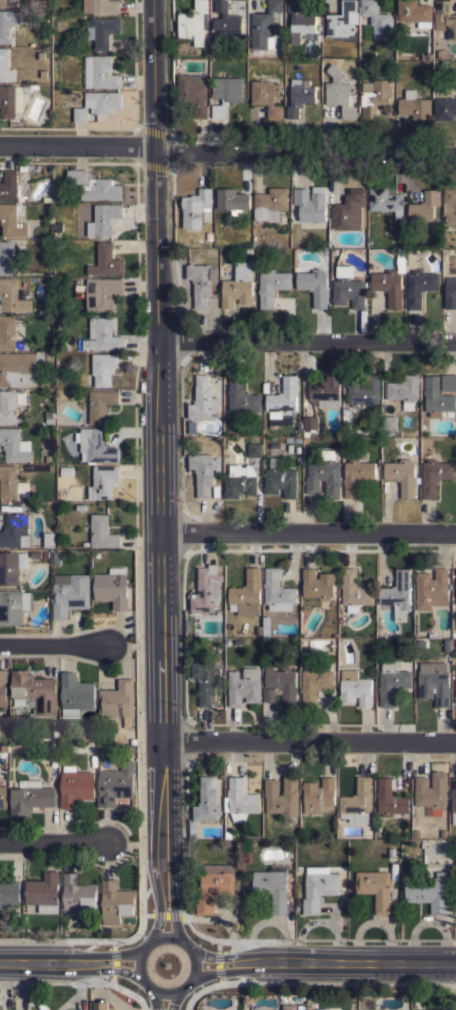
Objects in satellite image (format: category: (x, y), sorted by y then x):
building: (8, 3)
building: (101, 6)
building: (415, 12)
building: (445, 17)
building: (376, 19)
building: (194, 22)
building: (225, 22)
building: (342, 22)
building: (300, 23)
building: (7, 24)
building: (265, 27)
building: (102, 30)
building: (40, 55)
building: (5, 66)
building: (43, 73)
building: (100, 73)
building: (34, 86)
building: (26, 89)
building: (339, 92)
building: (192, 93)
building: (225, 94)
building: (299, 96)
building: (266, 97)
building: (374, 97)
building: (10, 100)
building: (102, 101)
building: (414, 105)
building: (444, 108)
building: (80, 114)
road: (227, 152)
building: (24, 165)
building: (77, 177)
building: (10, 185)
building: (101, 190)
building: (232, 200)
building: (386, 201)
building: (310, 203)
building: (270, 204)
building: (449, 206)
building: (195, 207)
building: (424, 209)
building: (349, 210)
building: (49, 219)
building: (104, 219)
building: (11, 221)
building: (7, 257)
building: (105, 261)
building: (201, 282)
building: (238, 286)
building: (272, 286)
building: (313, 286)
building: (389, 286)
building: (419, 286)
building: (347, 288)
building: (98, 293)
building: (450, 293)
building: (12, 296)
building: (47, 309)
building: (7, 332)
building: (102, 335)
road: (308, 342)
building: (19, 368)
building: (103, 368)
building: (448, 382)
building: (363, 390)
building: (404, 390)
building: (326, 391)
building: (282, 398)
building: (242, 399)
building: (438, 399)
building: (203, 400)
building: (10, 404)
building: (99, 406)
building: (49, 421)
building: (310, 423)
building: (389, 423)
building: (12, 445)
building: (94, 446)
building: (254, 450)
building: (48, 458)
road: (161, 466)
building: (66, 470)
building: (203, 472)
building: (324, 474)
building: (356, 475)
building: (402, 475)
building: (434, 476)
building: (280, 479)
building: (240, 480)
building: (103, 482)
building: (10, 483)
building: (79, 507)
building: (14, 531)
building: (102, 532)
road: (308, 534)
building: (48, 539)
building: (35, 554)
building: (45, 554)
building: (56, 558)
building: (44, 559)
building: (11, 566)
building: (317, 584)
building: (455, 585)
building: (111, 587)
building: (277, 589)
building: (431, 589)
building: (206, 591)
building: (354, 591)
building: (69, 594)
building: (246, 594)
building: (398, 594)
building: (455, 598)
building: (13, 606)
road: (55, 645)
building: (206, 681)
building: (315, 681)
building: (391, 682)
building: (434, 682)
building: (280, 684)
building: (244, 685)
building: (355, 688)
building: (3, 689)
building: (33, 691)
building: (75, 695)
building: (455, 695)
building: (455, 697)
building: (117, 701)
building: (132, 741)
road: (308, 743)
building: (4, 748)
building: (93, 760)
building: (115, 784)
building: (75, 785)
building: (431, 790)
building: (3, 796)
building: (30, 796)
building: (319, 796)
building: (282, 797)
building: (390, 798)
building: (241, 799)
building: (453, 799)
building: (357, 802)
building: (205, 803)
road: (53, 842)
building: (212, 885)
building: (272, 886)
building: (375, 888)
building: (318, 889)
building: (429, 891)
building: (43, 892)
building: (8, 893)
building: (78, 893)
building: (116, 902)
road: (194, 953)
road: (326, 961)
road: (68, 963)
road: (164, 1001)
building: (99, 1006)
building: (289, 1007)
building: (300, 1007)
building: (0, 1009)
building: (324, 1009)
building: (420, 1009)

